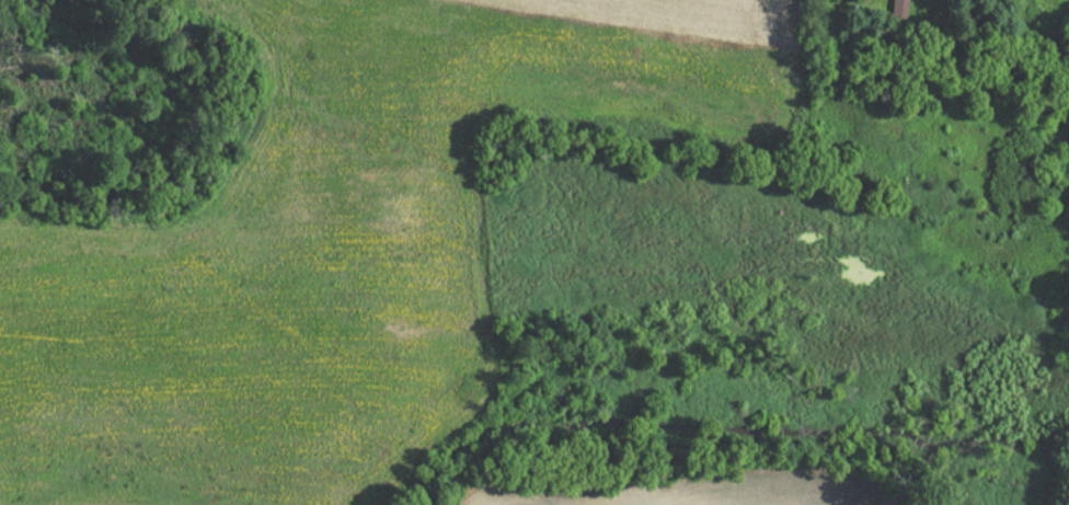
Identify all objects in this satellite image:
crop: (335, 249)

